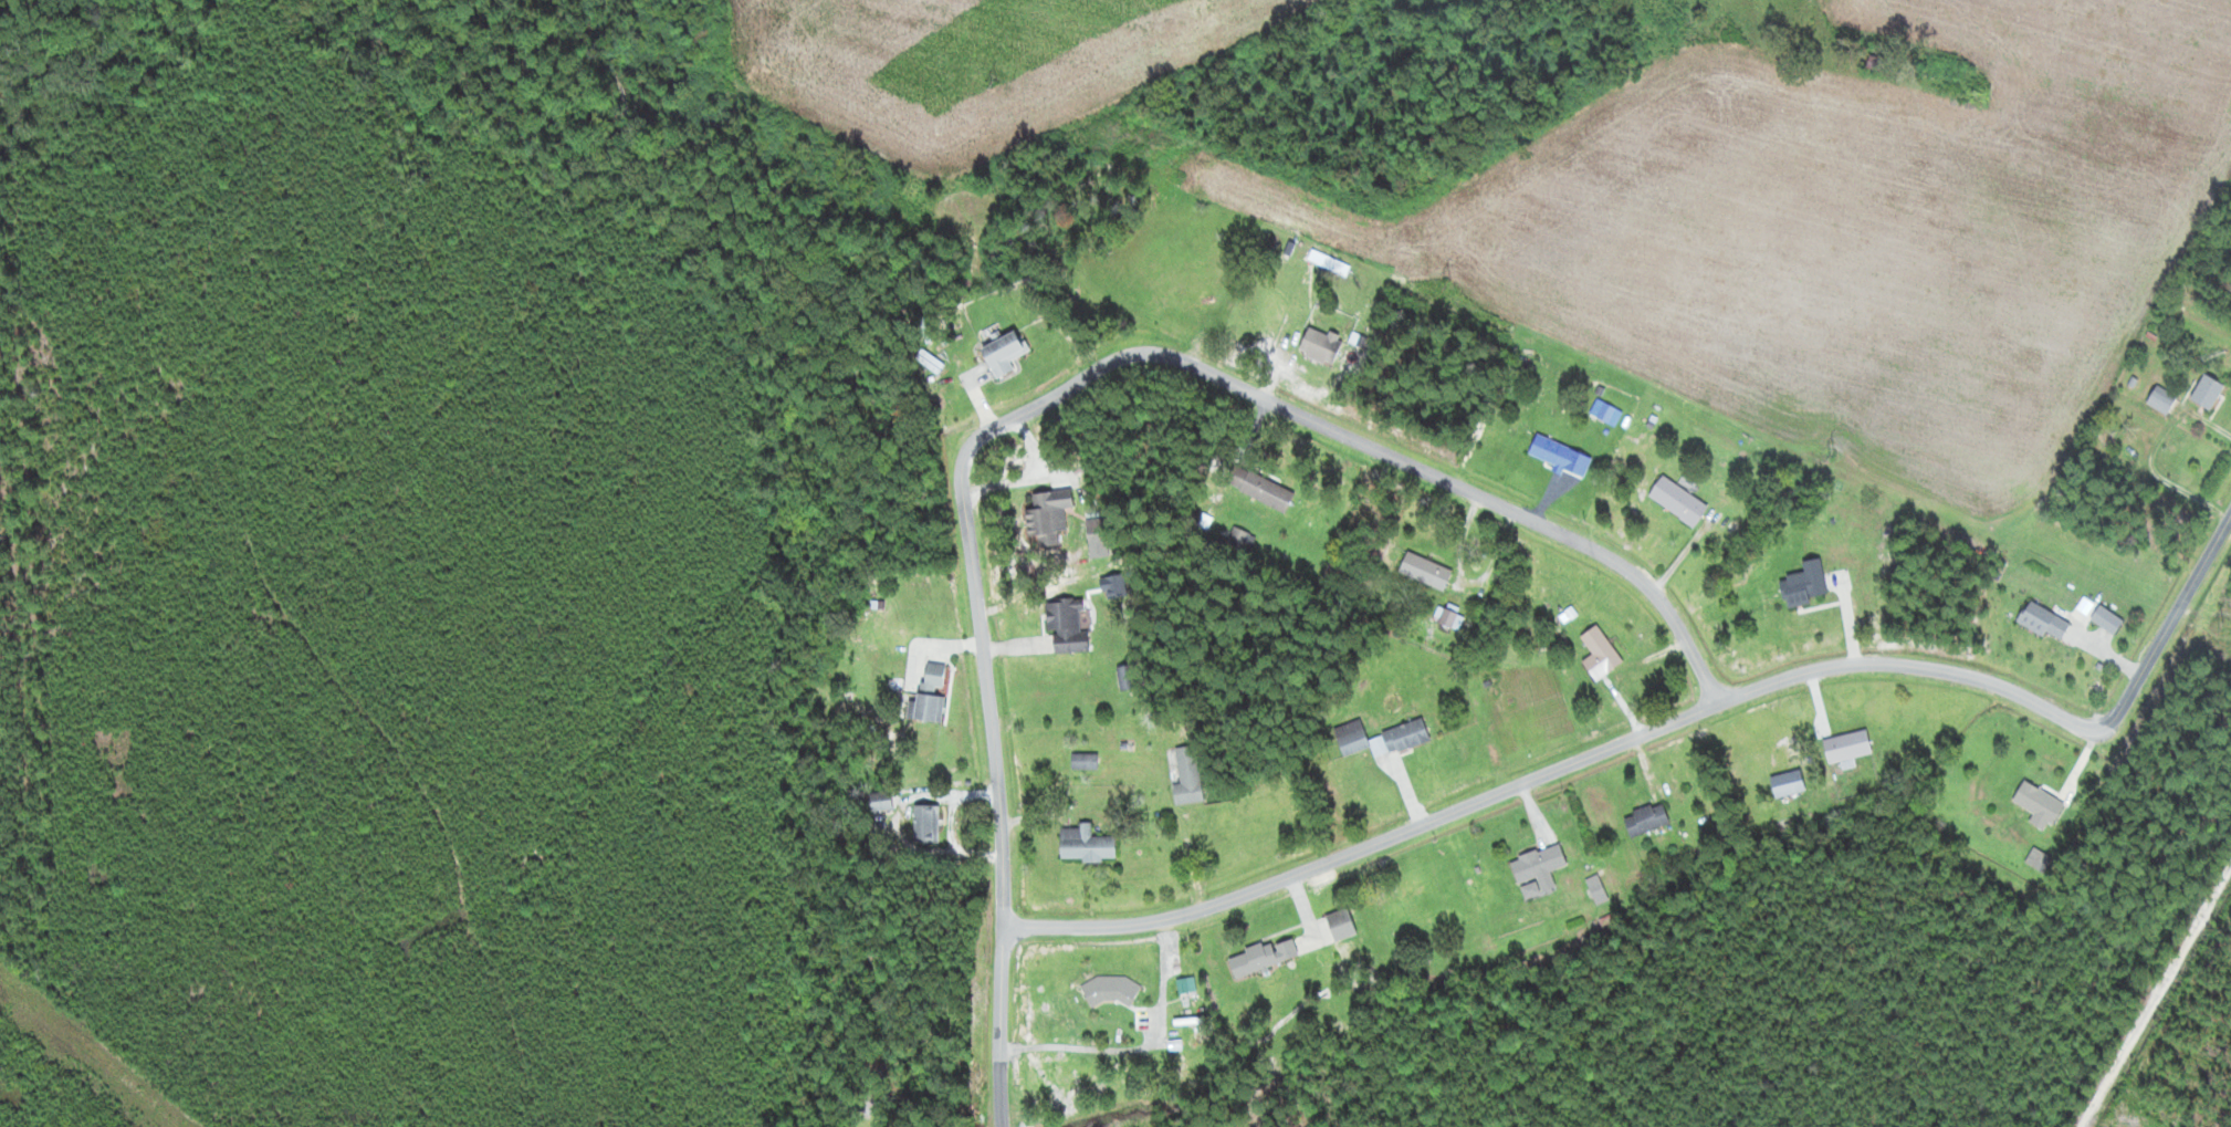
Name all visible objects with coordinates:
power tower: (995, 84)
power tower: (1448, 284)
building: (1322, 346)
building: (1005, 354)
building: (2208, 393)
building: (2162, 400)
road: (1373, 449)
power tower: (1832, 453)
building: (1560, 457)
building: (1260, 489)
building: (1678, 502)
building: (1049, 518)
building: (1097, 530)
building: (1426, 572)
building: (1805, 584)
building: (2084, 605)
road: (2171, 616)
building: (2107, 620)
building: (2045, 623)
power tower: (2221, 626)
building: (1067, 627)
building: (1600, 655)
building: (1128, 678)
road: (983, 692)
building: (931, 696)
building: (1381, 739)
building: (1847, 745)
building: (1085, 762)
road: (1564, 770)
building: (1188, 776)
building: (1789, 783)
building: (881, 802)
building: (2039, 805)
building: (1646, 820)
building: (928, 824)
building: (1087, 844)
building: (2038, 859)
building: (1538, 870)
building: (1264, 957)
building: (1111, 991)
road: (1005, 1018)
building: (868, 1100)
road: (1004, 1118)

